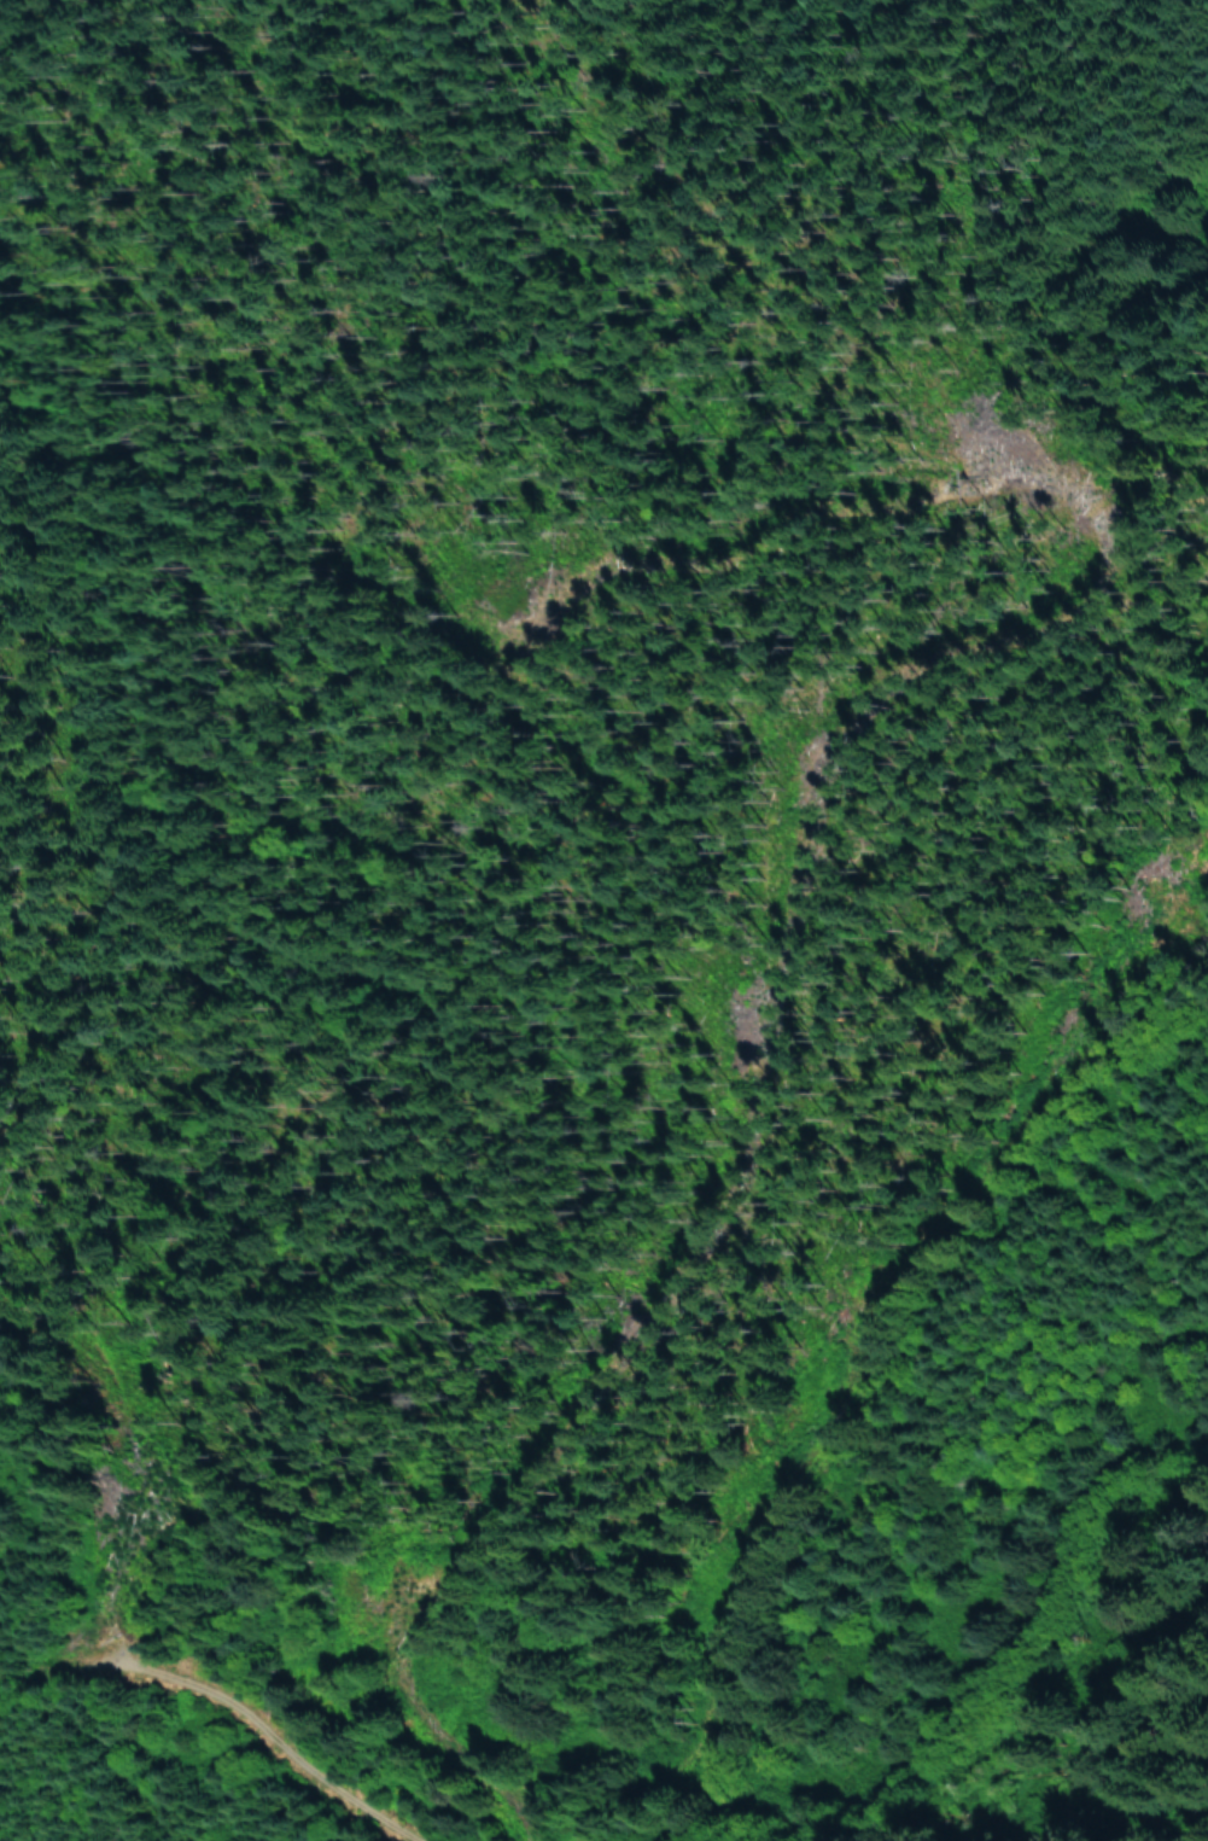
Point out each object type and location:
road: (256, 1642)
road: (893, 1728)

